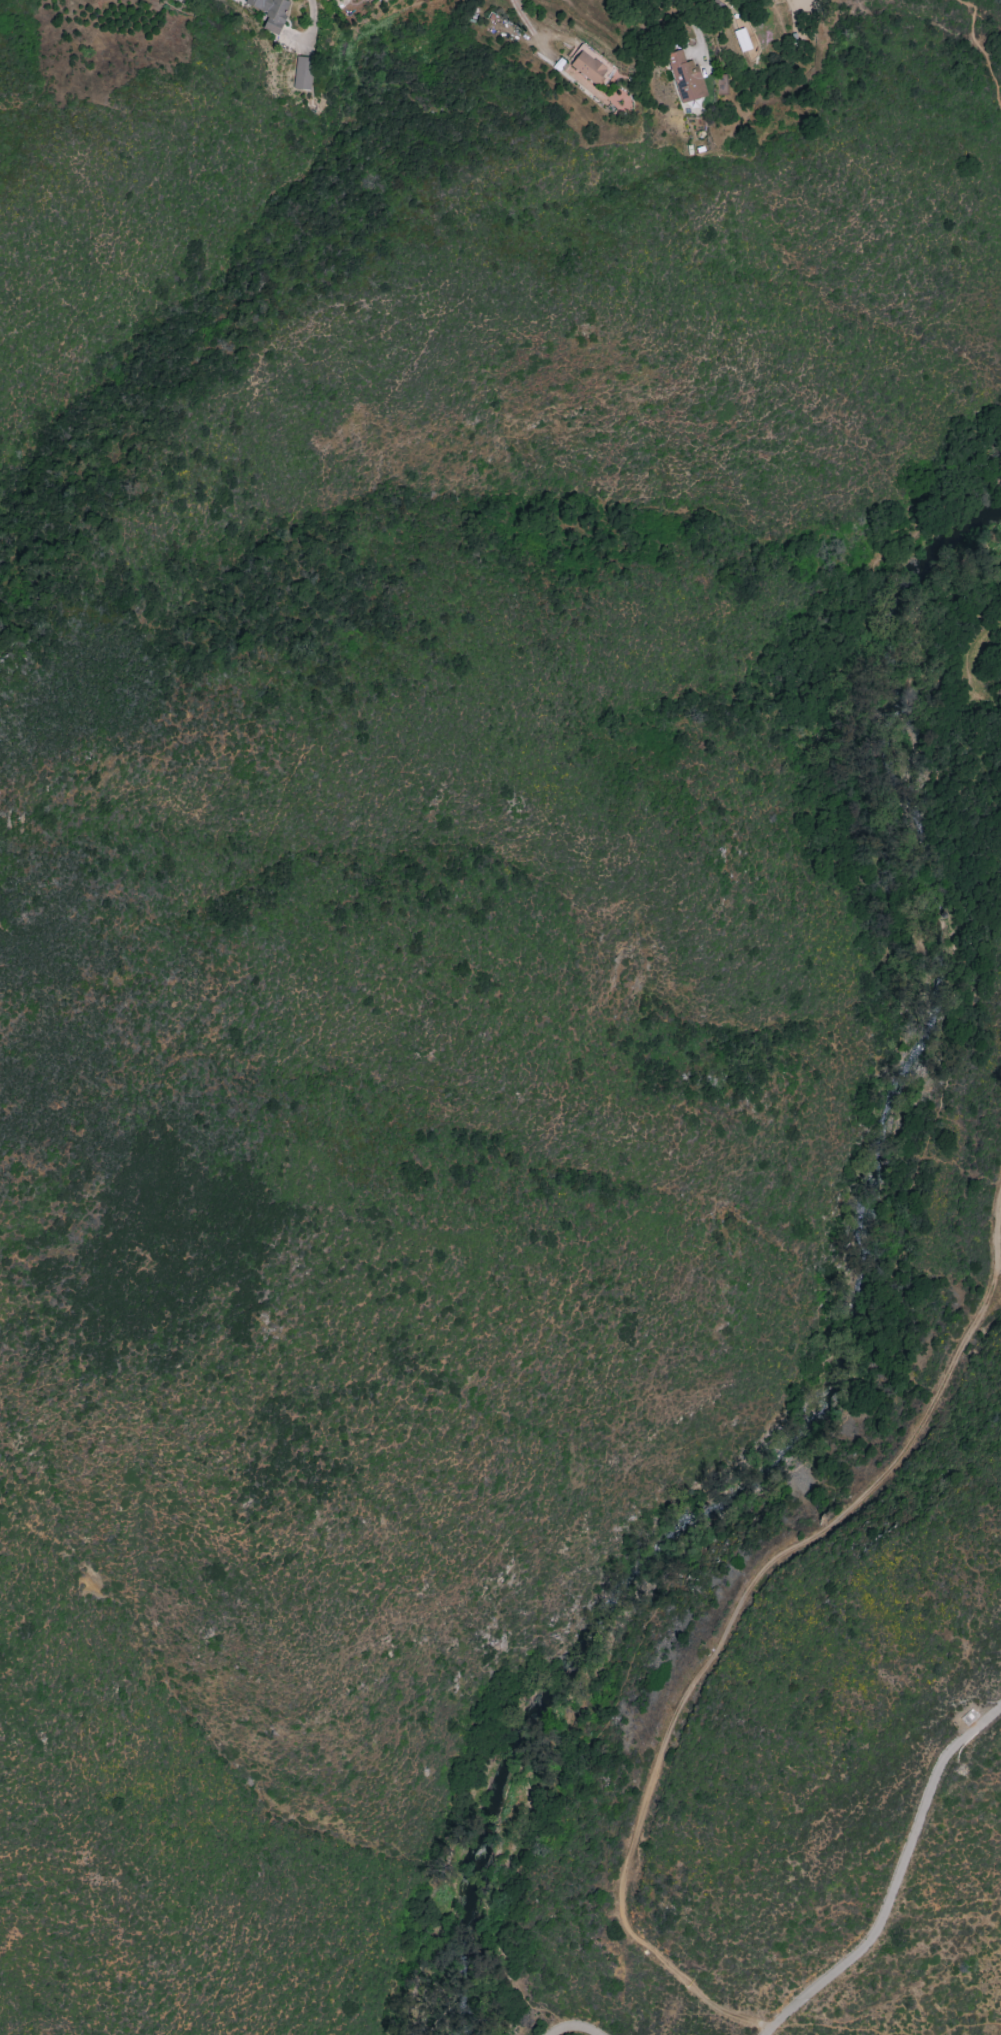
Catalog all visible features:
building: (271, 12)
road: (312, 25)
road: (529, 27)
road: (695, 28)
road: (982, 51)
building: (589, 65)
building: (302, 73)
building: (685, 77)
road: (970, 642)
road: (980, 695)
road: (810, 1451)
road: (733, 1616)
road: (897, 1871)
road: (969, 2025)
road: (842, 2028)
road: (574, 2029)
road: (771, 2030)
road: (1000, 2032)

